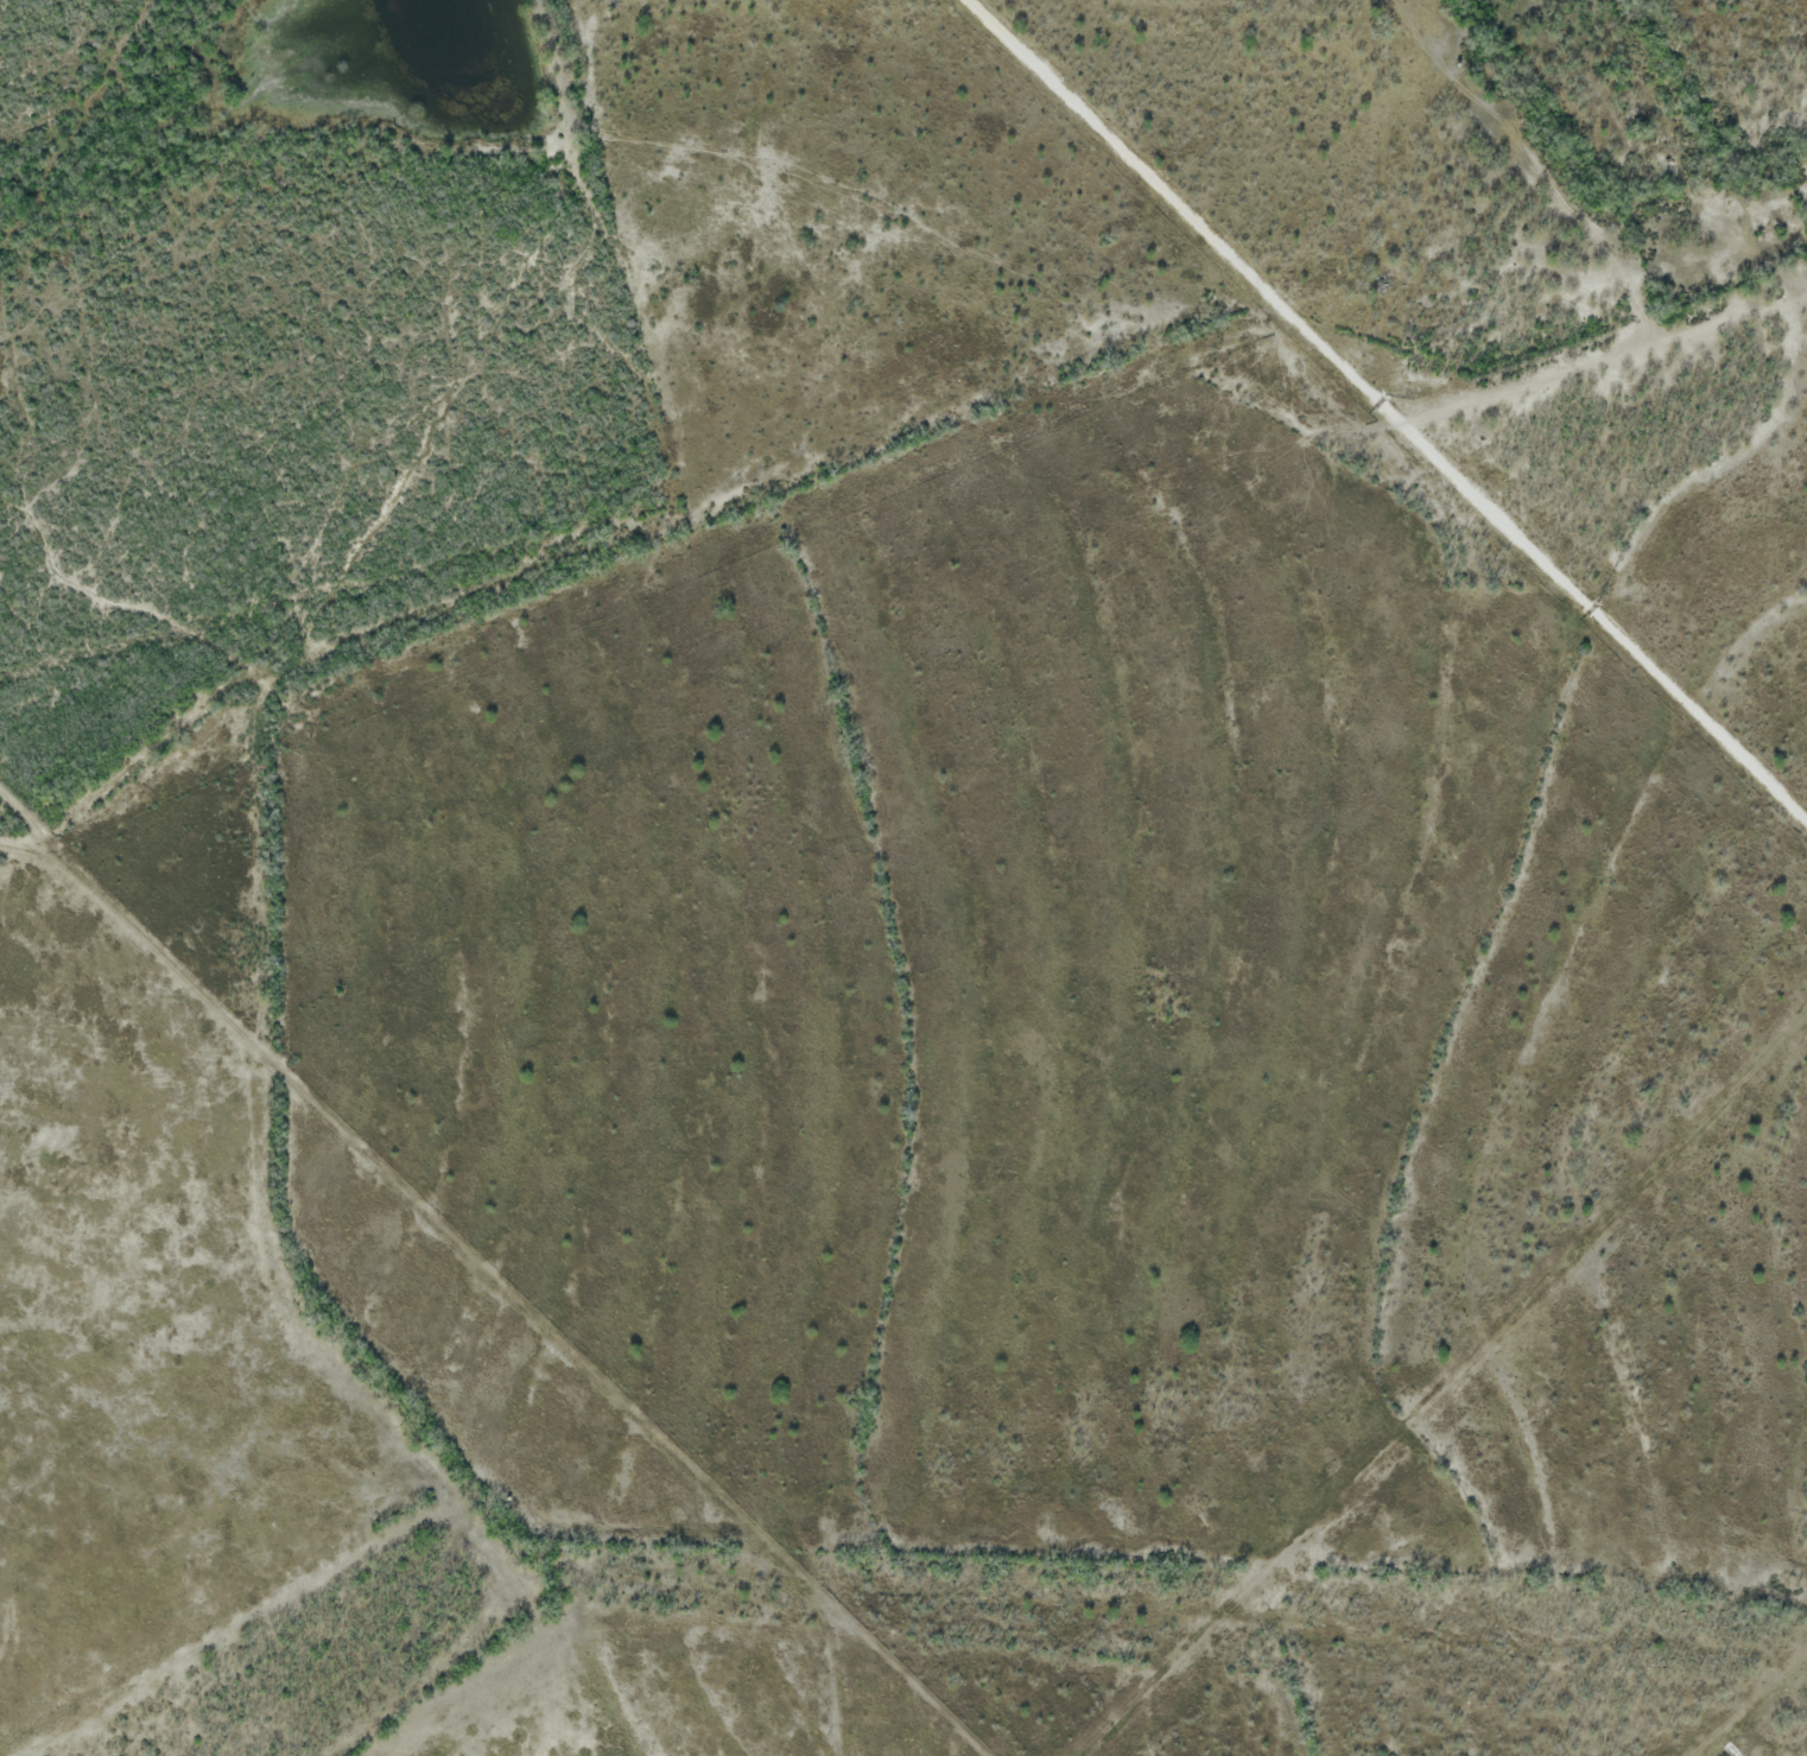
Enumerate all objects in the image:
road: (1488, 1149)

